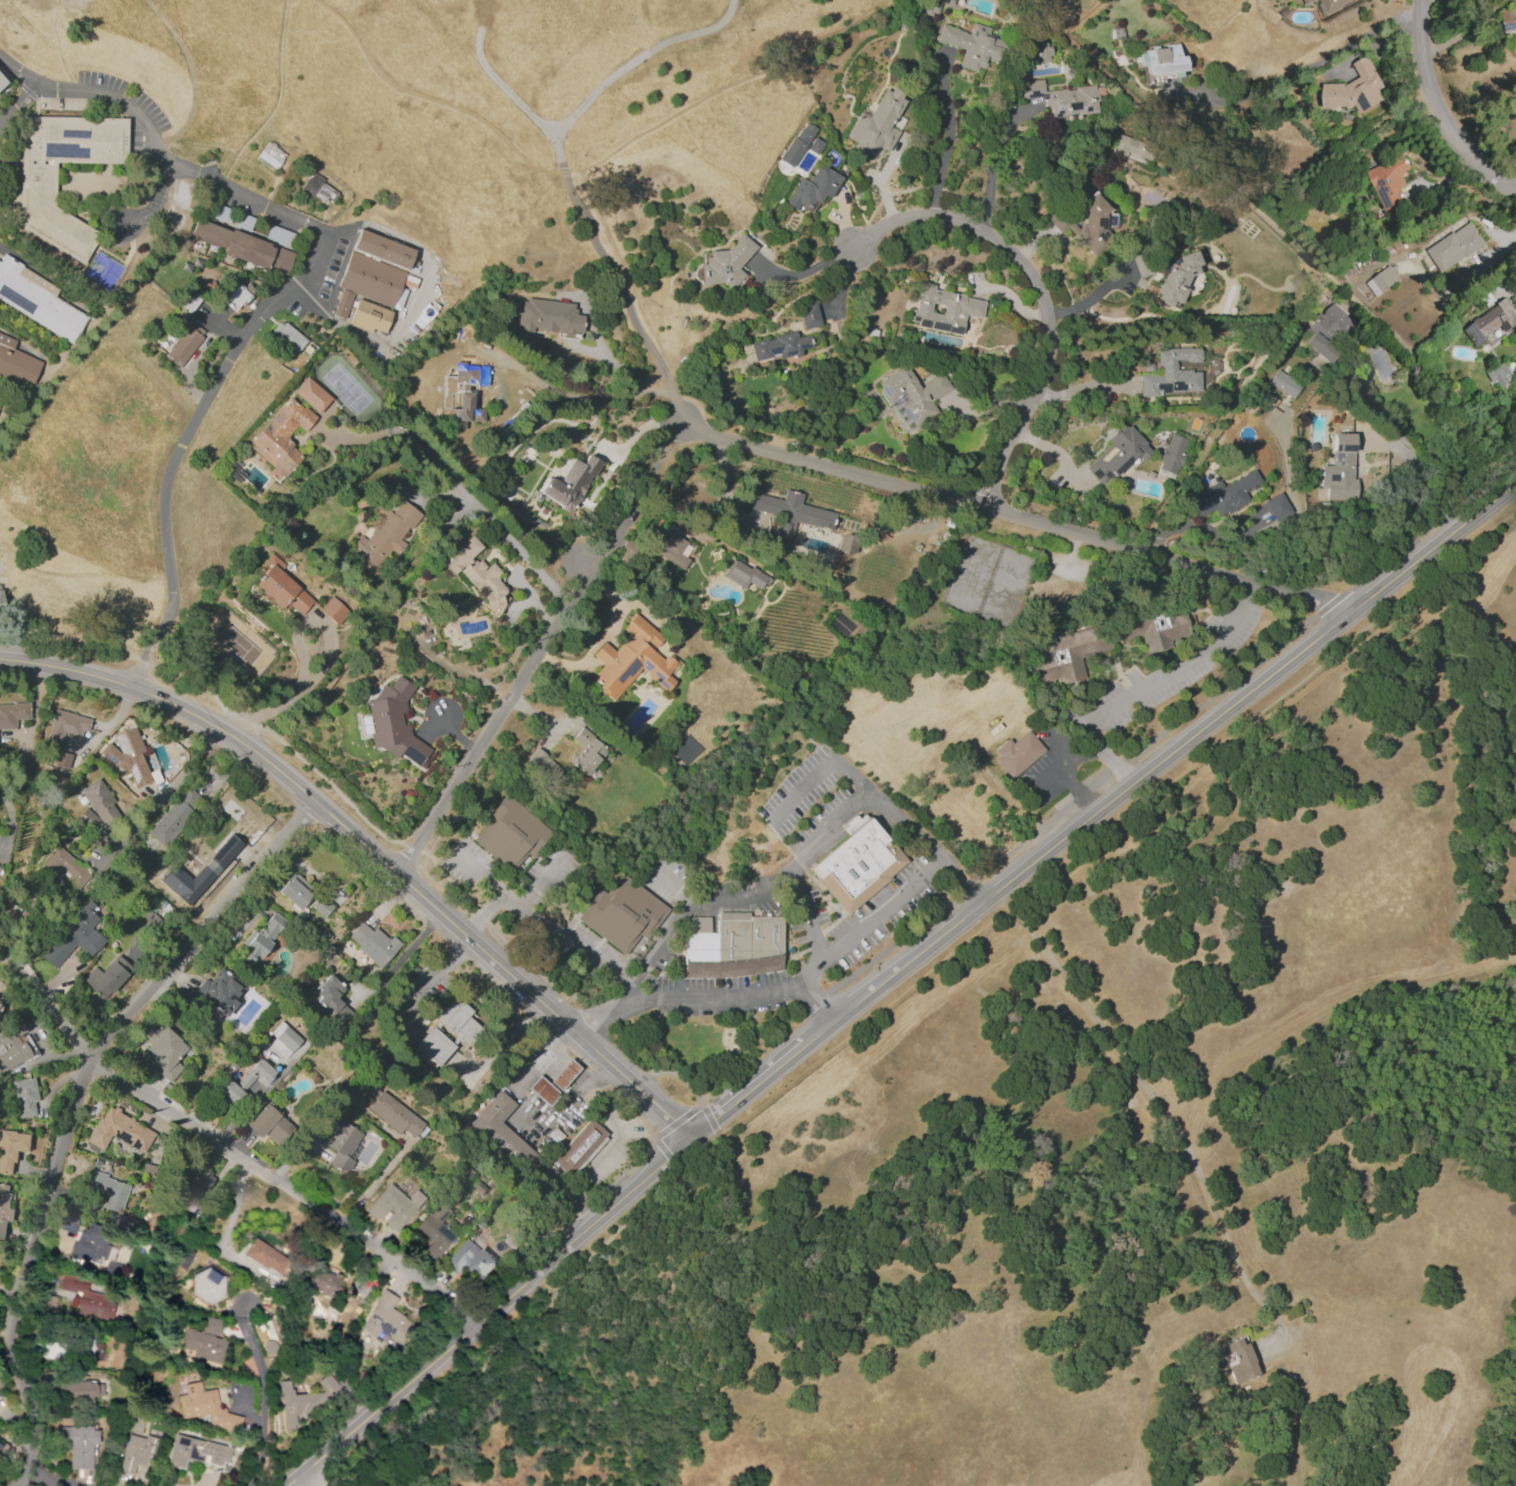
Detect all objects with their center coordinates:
building: (1308, 1)
building: (1332, 4)
road: (50, 7)
road: (1448, 16)
building: (1508, 20)
road: (1467, 27)
road: (58, 39)
road: (1377, 43)
building: (971, 44)
building: (1043, 51)
building: (1161, 63)
road: (18, 71)
road: (1302, 72)
building: (1, 81)
building: (1356, 89)
parking lot: (125, 93)
road: (591, 96)
building: (1062, 98)
road: (16, 103)
road: (1438, 110)
road: (264, 116)
building: (877, 122)
road: (149, 128)
road: (948, 135)
building: (798, 144)
building: (815, 146)
building: (1132, 147)
building: (270, 156)
building: (1249, 156)
road: (598, 157)
road: (13, 160)
road: (37, 162)
road: (992, 164)
building: (1388, 181)
building: (37, 182)
building: (318, 188)
building: (812, 188)
road: (58, 201)
building: (1086, 224)
road: (1282, 233)
building: (243, 246)
building: (383, 247)
building: (1455, 247)
road: (316, 252)
road: (1498, 254)
building: (724, 266)
park: (102, 270)
road: (615, 272)
road: (800, 273)
building: (1175, 277)
building: (371, 278)
building: (1382, 281)
road: (1039, 292)
building: (237, 295)
road: (415, 297)
road: (1092, 297)
building: (38, 299)
building: (342, 302)
building: (943, 309)
building: (369, 315)
building: (809, 315)
building: (547, 316)
building: (1491, 324)
building: (1328, 330)
building: (287, 336)
building: (183, 343)
building: (779, 346)
building: (17, 361)
building: (1171, 373)
building: (1501, 375)
building: (1283, 383)
park: (345, 388)
road: (1084, 390)
building: (467, 392)
road: (567, 393)
building: (311, 394)
building: (924, 395)
road: (674, 429)
building: (281, 436)
road: (662, 449)
building: (1117, 454)
building: (1171, 455)
building: (1340, 469)
building: (570, 483)
road: (463, 492)
building: (1224, 495)
building: (1277, 505)
road: (629, 506)
building: (788, 513)
road: (1015, 514)
building: (385, 535)
road: (165, 542)
building: (668, 546)
road: (594, 559)
building: (475, 571)
building: (743, 574)
building: (280, 586)
building: (333, 610)
building: (0, 618)
road: (606, 637)
park: (235, 641)
building: (1104, 641)
road: (72, 644)
building: (632, 659)
road: (1157, 687)
road: (300, 692)
building: (13, 713)
road: (533, 714)
road: (494, 721)
building: (394, 723)
building: (66, 726)
road: (1166, 731)
road: (457, 735)
building: (586, 751)
building: (1017, 754)
building: (128, 757)
building: (62, 759)
road: (1159, 762)
building: (544, 768)
road: (820, 772)
road: (167, 791)
parking lot: (817, 804)
building: (98, 807)
building: (175, 816)
road: (10, 822)
road: (773, 825)
road: (906, 825)
road: (1116, 827)
building: (511, 833)
road: (382, 836)
building: (225, 850)
road: (371, 850)
road: (796, 864)
building: (61, 865)
building: (856, 865)
building: (1, 871)
road: (806, 872)
road: (540, 881)
building: (186, 882)
road: (959, 883)
building: (295, 891)
road: (701, 902)
building: (323, 904)
road: (483, 914)
building: (625, 916)
road: (537, 923)
parking lot: (857, 933)
building: (75, 936)
building: (260, 938)
road: (811, 939)
building: (373, 943)
road: (657, 944)
building: (731, 945)
road: (407, 953)
road: (732, 972)
road: (661, 973)
building: (106, 978)
road: (805, 979)
road: (428, 983)
building: (217, 993)
building: (332, 999)
road: (818, 1001)
road: (48, 1003)
road: (603, 1012)
building: (446, 1032)
building: (284, 1038)
building: (14, 1045)
park: (701, 1046)
road: (433, 1047)
road: (498, 1049)
building: (164, 1050)
building: (243, 1082)
building: (552, 1082)
road: (747, 1090)
building: (25, 1096)
road: (72, 1108)
road: (1164, 1112)
building: (394, 1114)
road: (677, 1120)
road: (711, 1122)
road: (516, 1123)
building: (269, 1124)
building: (503, 1132)
building: (340, 1142)
building: (579, 1146)
building: (10, 1148)
road: (604, 1155)
road: (669, 1158)
road: (636, 1159)
road: (374, 1181)
road: (285, 1186)
building: (194, 1190)
building: (109, 1191)
building: (393, 1206)
building: (4, 1207)
road: (227, 1217)
building: (435, 1231)
building: (84, 1239)
building: (265, 1257)
building: (469, 1259)
building: (324, 1283)
building: (207, 1285)
building: (87, 1298)
road: (487, 1312)
road: (539, 1318)
building: (386, 1321)
building: (204, 1341)
building: (1233, 1359)
building: (79, 1390)
road: (259, 1396)
building: (306, 1399)
building: (205, 1409)
building: (77, 1444)
building: (0, 1446)
building: (136, 1447)
building: (195, 1452)
road: (402, 1468)
road: (309, 1478)
road: (48, 1481)

